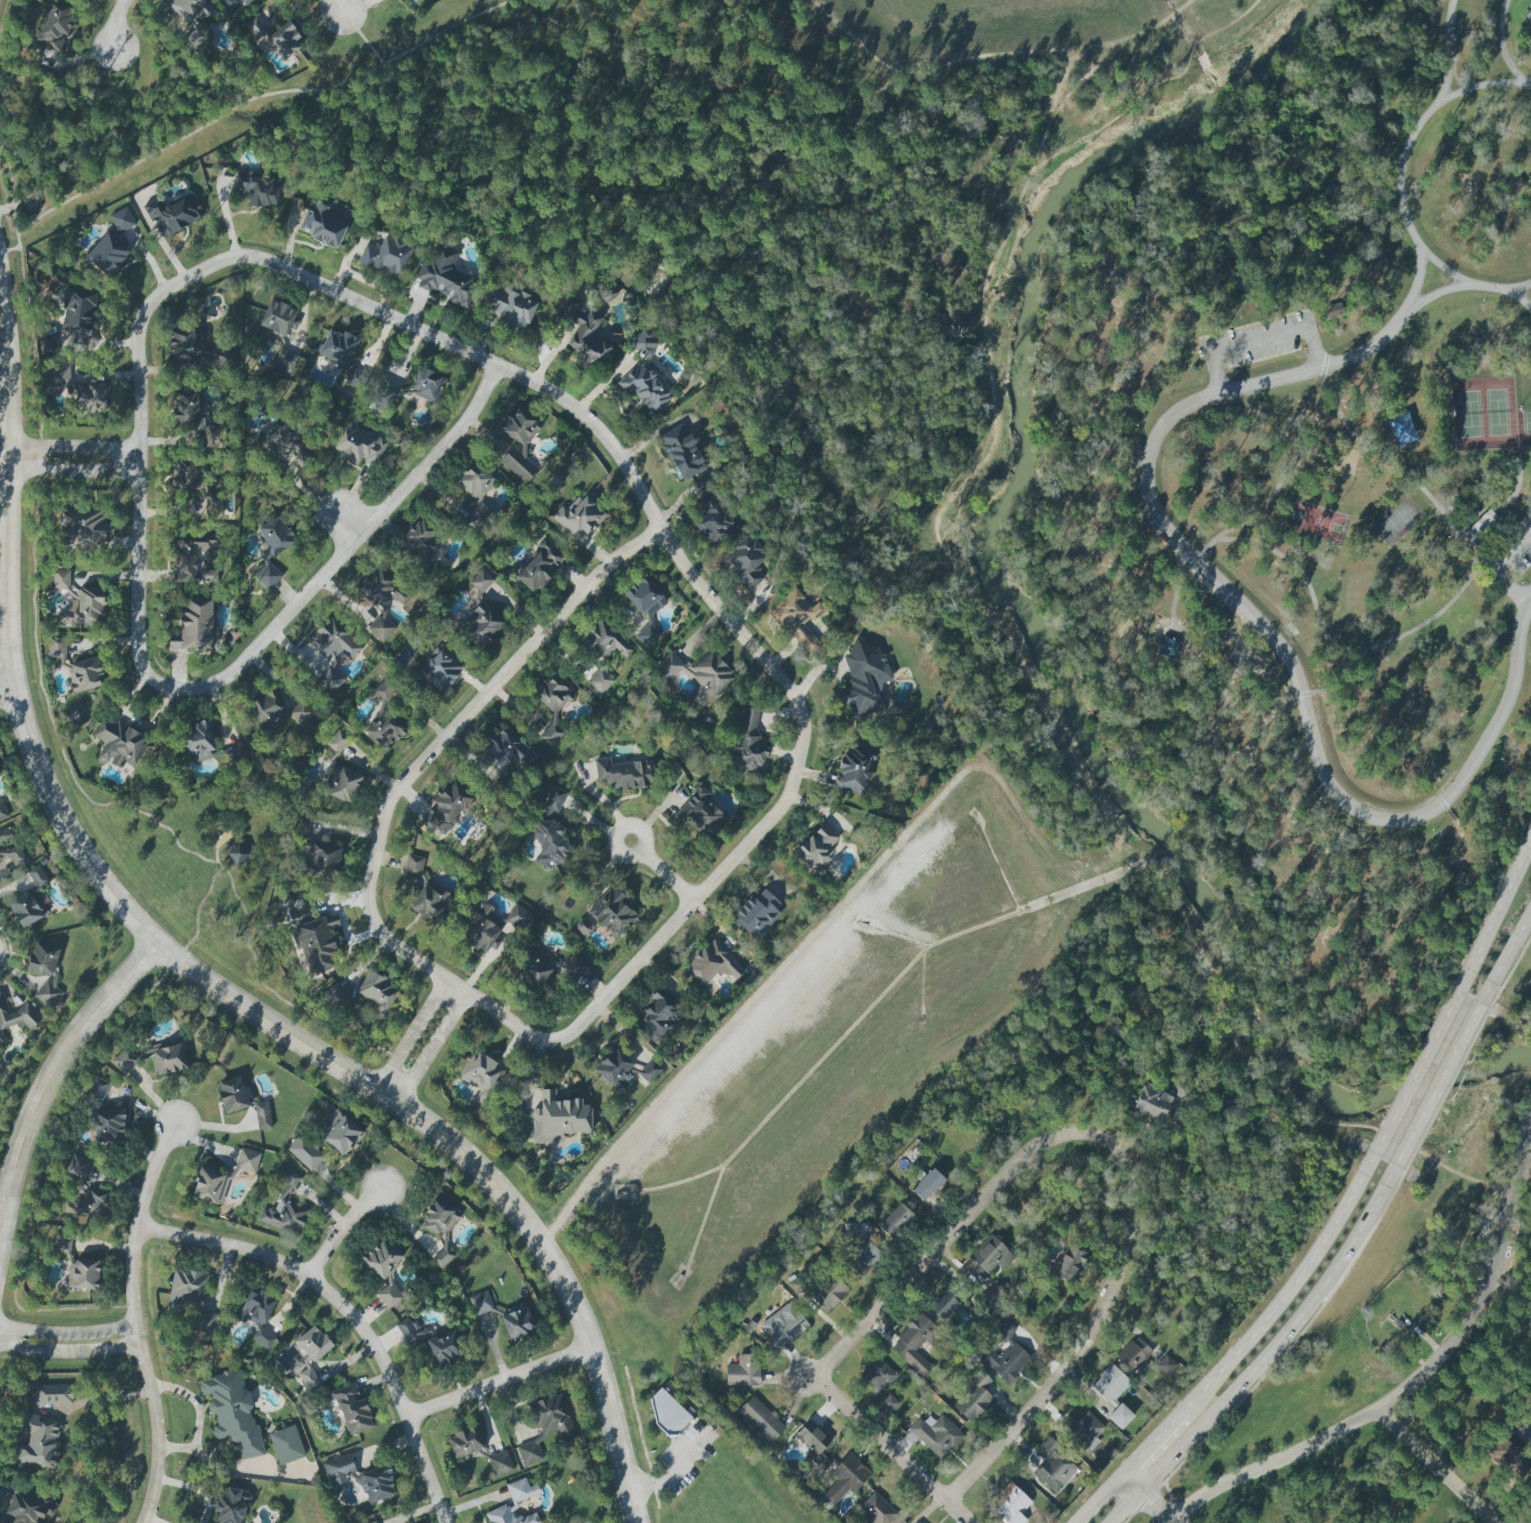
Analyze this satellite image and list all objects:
building: (245, 1)
road: (339, 5)
building: (189, 9)
building: (1527, 17)
parking lot: (1529, 19)
road: (115, 22)
road: (5, 25)
building: (54, 26)
building: (255, 28)
road: (363, 37)
building: (195, 39)
building: (285, 41)
road: (1502, 45)
road: (1450, 54)
road: (382, 62)
road: (230, 109)
road: (1403, 157)
road: (116, 174)
building: (258, 188)
road: (9, 194)
building: (174, 213)
building: (122, 219)
road: (9, 249)
building: (107, 254)
building: (386, 256)
road: (1442, 267)
building: (444, 276)
road: (302, 277)
road: (1470, 286)
road: (1517, 286)
building: (606, 296)
building: (512, 306)
building: (1333, 310)
building: (276, 321)
building: (73, 324)
building: (584, 332)
road: (1260, 341)
parking lot: (1261, 341)
building: (644, 343)
building: (185, 344)
building: (337, 347)
building: (57, 375)
building: (357, 378)
building: (427, 385)
building: (644, 387)
building: (382, 395)
building: (91, 398)
building: (185, 407)
building: (213, 434)
building: (518, 443)
building: (283, 444)
road: (72, 446)
building: (358, 446)
building: (681, 452)
road: (72, 472)
building: (186, 475)
road: (1518, 486)
building: (475, 494)
building: (212, 501)
park: (1301, 502)
road: (137, 515)
road: (1510, 515)
building: (711, 517)
building: (577, 518)
road: (1446, 519)
road: (351, 522)
building: (83, 527)
building: (1482, 528)
building: (275, 535)
building: (418, 541)
parking lot: (1510, 554)
road: (342, 556)
building: (194, 558)
building: (745, 562)
building: (539, 567)
road: (1497, 569)
building: (268, 575)
building: (60, 579)
building: (481, 581)
building: (642, 595)
building: (381, 600)
building: (85, 608)
building: (797, 619)
river: (1032, 622)
building: (482, 624)
building: (196, 625)
road: (1265, 627)
building: (647, 635)
building: (334, 640)
building: (605, 641)
building: (57, 647)
building: (1169, 647)
building: (670, 665)
building: (440, 670)
road: (6, 671)
building: (85, 674)
building: (864, 678)
building: (330, 679)
building: (709, 679)
building: (600, 681)
building: (383, 690)
road: (1293, 696)
road: (9, 699)
building: (552, 706)
building: (268, 711)
building: (300, 713)
building: (384, 729)
building: (198, 740)
building: (337, 741)
building: (748, 741)
building: (118, 743)
building: (507, 750)
road: (40, 771)
building: (854, 771)
building: (624, 774)
building: (342, 784)
building: (555, 799)
building: (446, 808)
building: (2, 811)
building: (701, 811)
building: (302, 825)
building: (5, 834)
building: (549, 843)
road: (641, 848)
building: (817, 850)
building: (237, 853)
building: (13, 854)
building: (323, 859)
building: (414, 868)
road: (666, 875)
building: (30, 899)
building: (429, 901)
building: (612, 912)
building: (757, 913)
road: (1494, 918)
building: (494, 926)
building: (582, 927)
building: (318, 943)
road: (1506, 960)
building: (712, 964)
building: (534, 968)
building: (573, 968)
building: (45, 972)
road: (614, 985)
building: (377, 991)
building: (335, 996)
building: (658, 1015)
building: (15, 1016)
road: (411, 1034)
road: (431, 1047)
building: (125, 1059)
building: (169, 1059)
road: (58, 1069)
building: (614, 1069)
building: (649, 1071)
building: (481, 1075)
road: (1417, 1075)
road: (1440, 1085)
building: (1180, 1089)
building: (232, 1095)
building: (1152, 1103)
building: (104, 1114)
building: (262, 1115)
building: (559, 1118)
building: (338, 1130)
building: (305, 1152)
building: (79, 1166)
road: (147, 1175)
building: (222, 1177)
building: (927, 1184)
road: (987, 1193)
building: (285, 1206)
building: (438, 1217)
building: (895, 1221)
road: (342, 1227)
building: (63, 1242)
building: (861, 1255)
building: (991, 1255)
building: (1070, 1264)
building: (384, 1271)
road: (1490, 1273)
building: (83, 1274)
road: (132, 1279)
road: (563, 1285)
building: (187, 1289)
road: (1286, 1289)
park: (1385, 1290)
building: (829, 1292)
building: (994, 1294)
park: (1512, 1298)
building: (944, 1302)
building: (481, 1303)
road: (350, 1310)
building: (258, 1315)
building: (205, 1322)
building: (517, 1322)
building: (784, 1325)
building: (412, 1332)
building: (915, 1343)
road: (68, 1344)
building: (444, 1347)
building: (311, 1354)
building: (1005, 1354)
building: (1134, 1354)
road: (1271, 1356)
building: (1167, 1366)
building: (743, 1371)
building: (877, 1375)
road: (500, 1377)
building: (1110, 1384)
building: (53, 1394)
road: (105, 1396)
building: (974, 1396)
building: (889, 1404)
building: (352, 1408)
building: (667, 1411)
building: (232, 1412)
building: (1120, 1416)
building: (761, 1419)
building: (546, 1426)
road: (156, 1427)
building: (1083, 1429)
building: (936, 1435)
building: (812, 1437)
building: (38, 1441)
building: (465, 1442)
road: (1316, 1442)
road: (1152, 1444)
building: (286, 1445)
building: (1508, 1457)
building: (499, 1463)
road: (1438, 1466)
building: (1054, 1467)
building: (339, 1469)
road: (669, 1470)
building: (845, 1479)
building: (377, 1484)
road: (1099, 1500)
road: (1148, 1500)
building: (515, 1505)
building: (230, 1506)
building: (1011, 1506)
building: (28, 1508)
building: (876, 1510)
road: (958, 1513)
building: (373, 1522)
building: (917, 1522)

